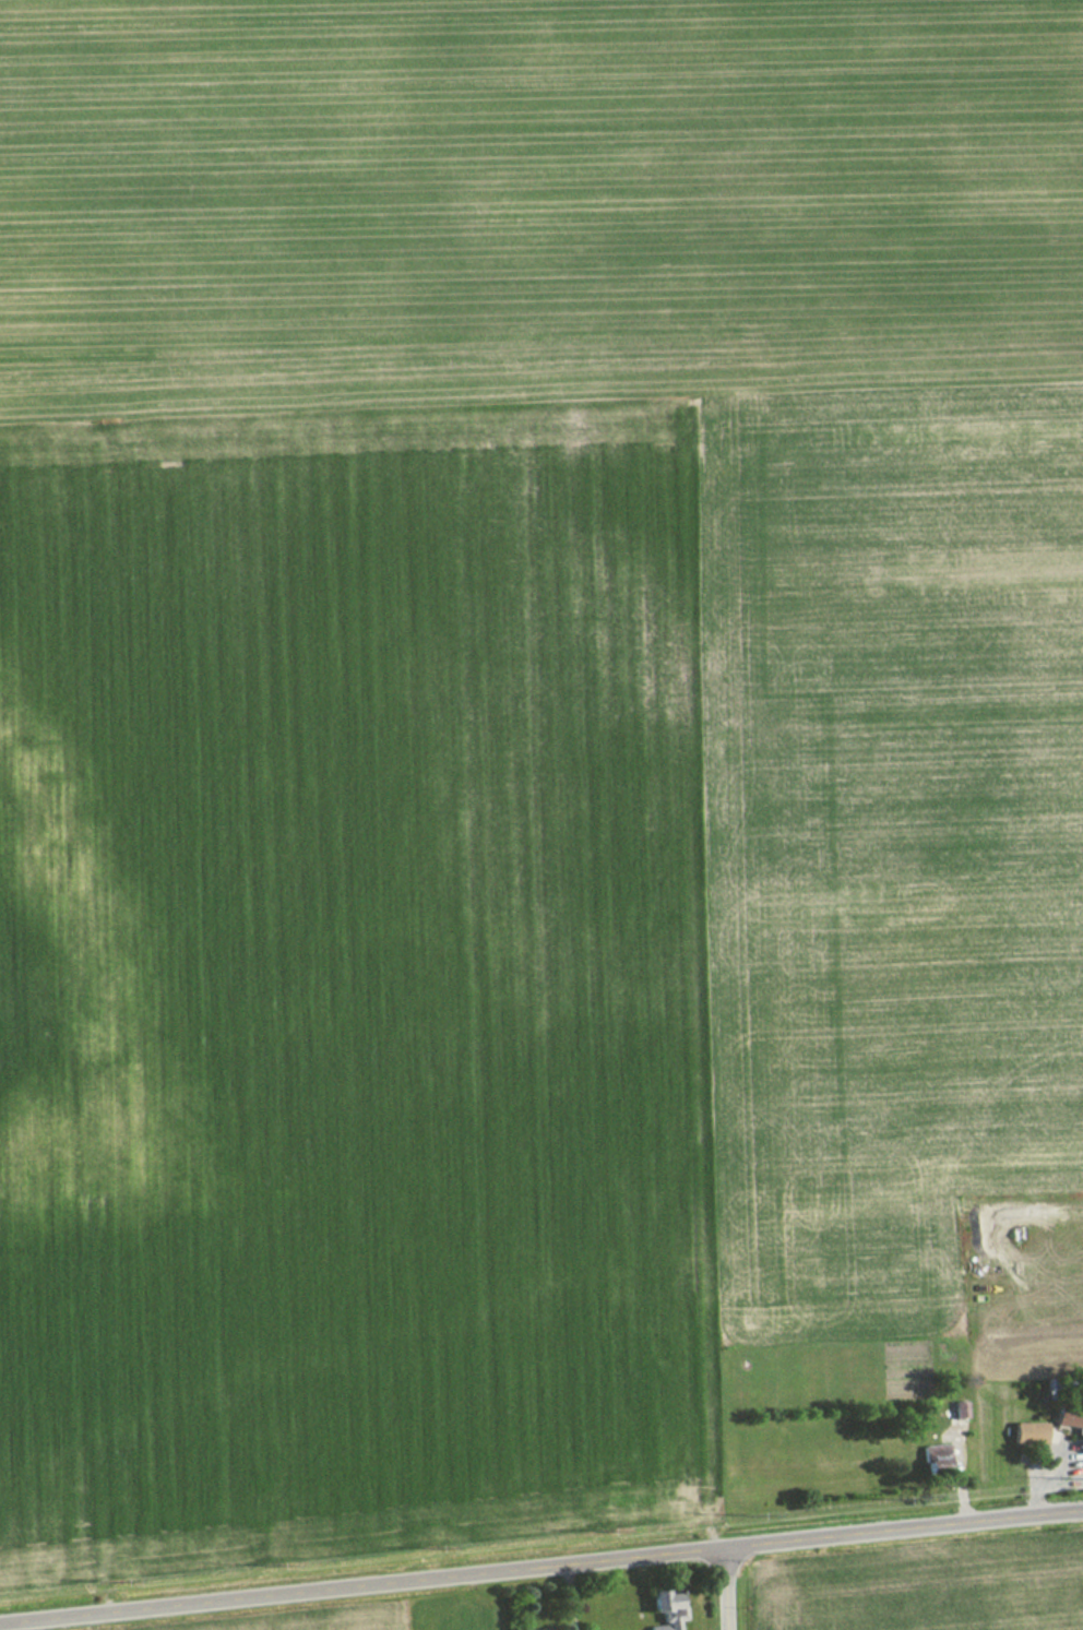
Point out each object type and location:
crop: (897, 881)
crop: (354, 974)
building: (1067, 1417)
building: (1025, 1433)
building: (932, 1459)
road: (1073, 1510)
road: (541, 1567)
road: (722, 1589)
crop: (928, 1591)
road: (563, 1597)
crop: (343, 1623)

